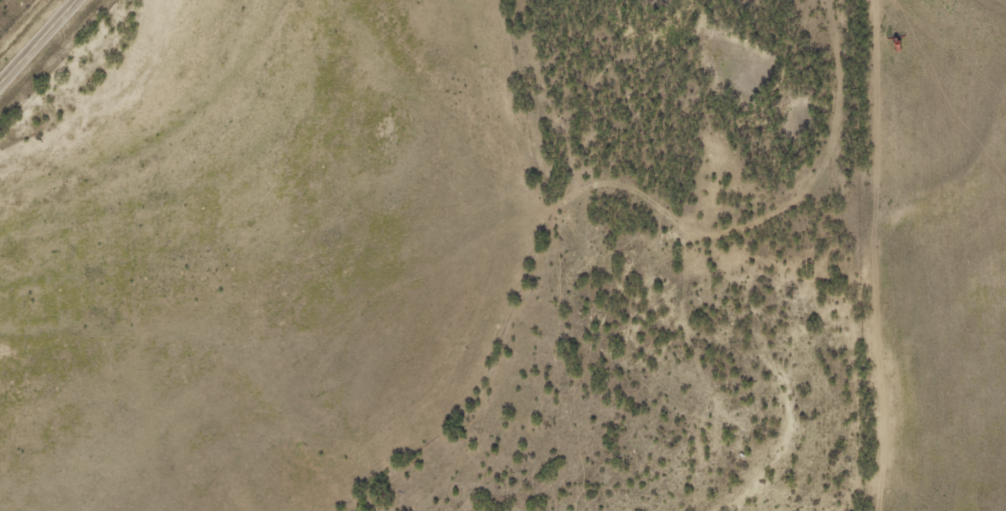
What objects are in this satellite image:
road: (40, 43)

